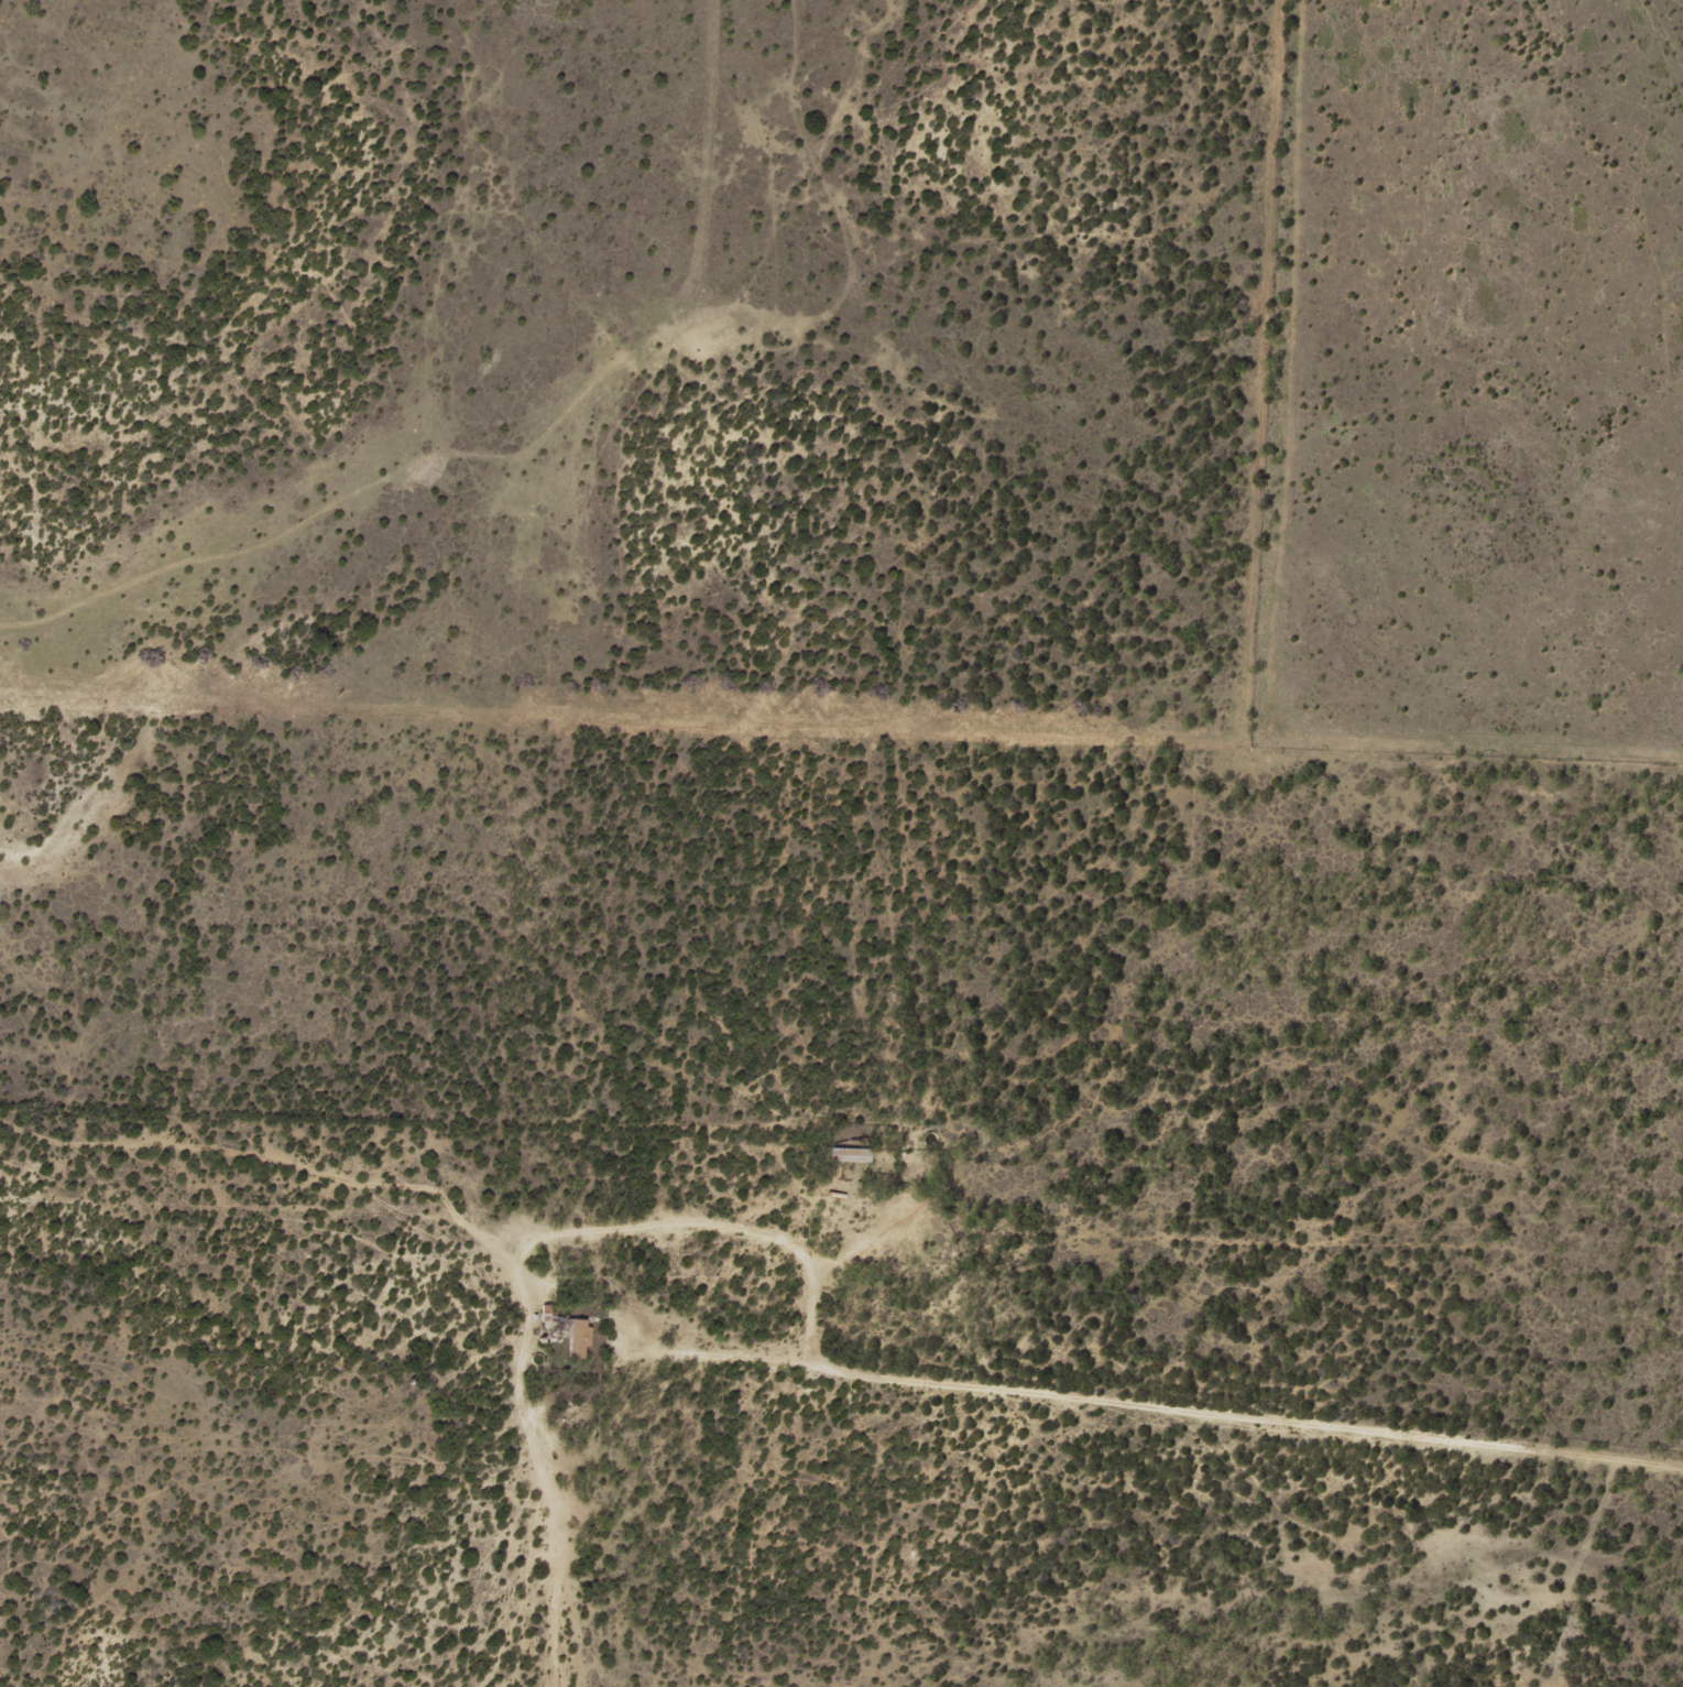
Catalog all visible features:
road: (490, 1232)
building: (577, 1336)
road: (1100, 1447)

